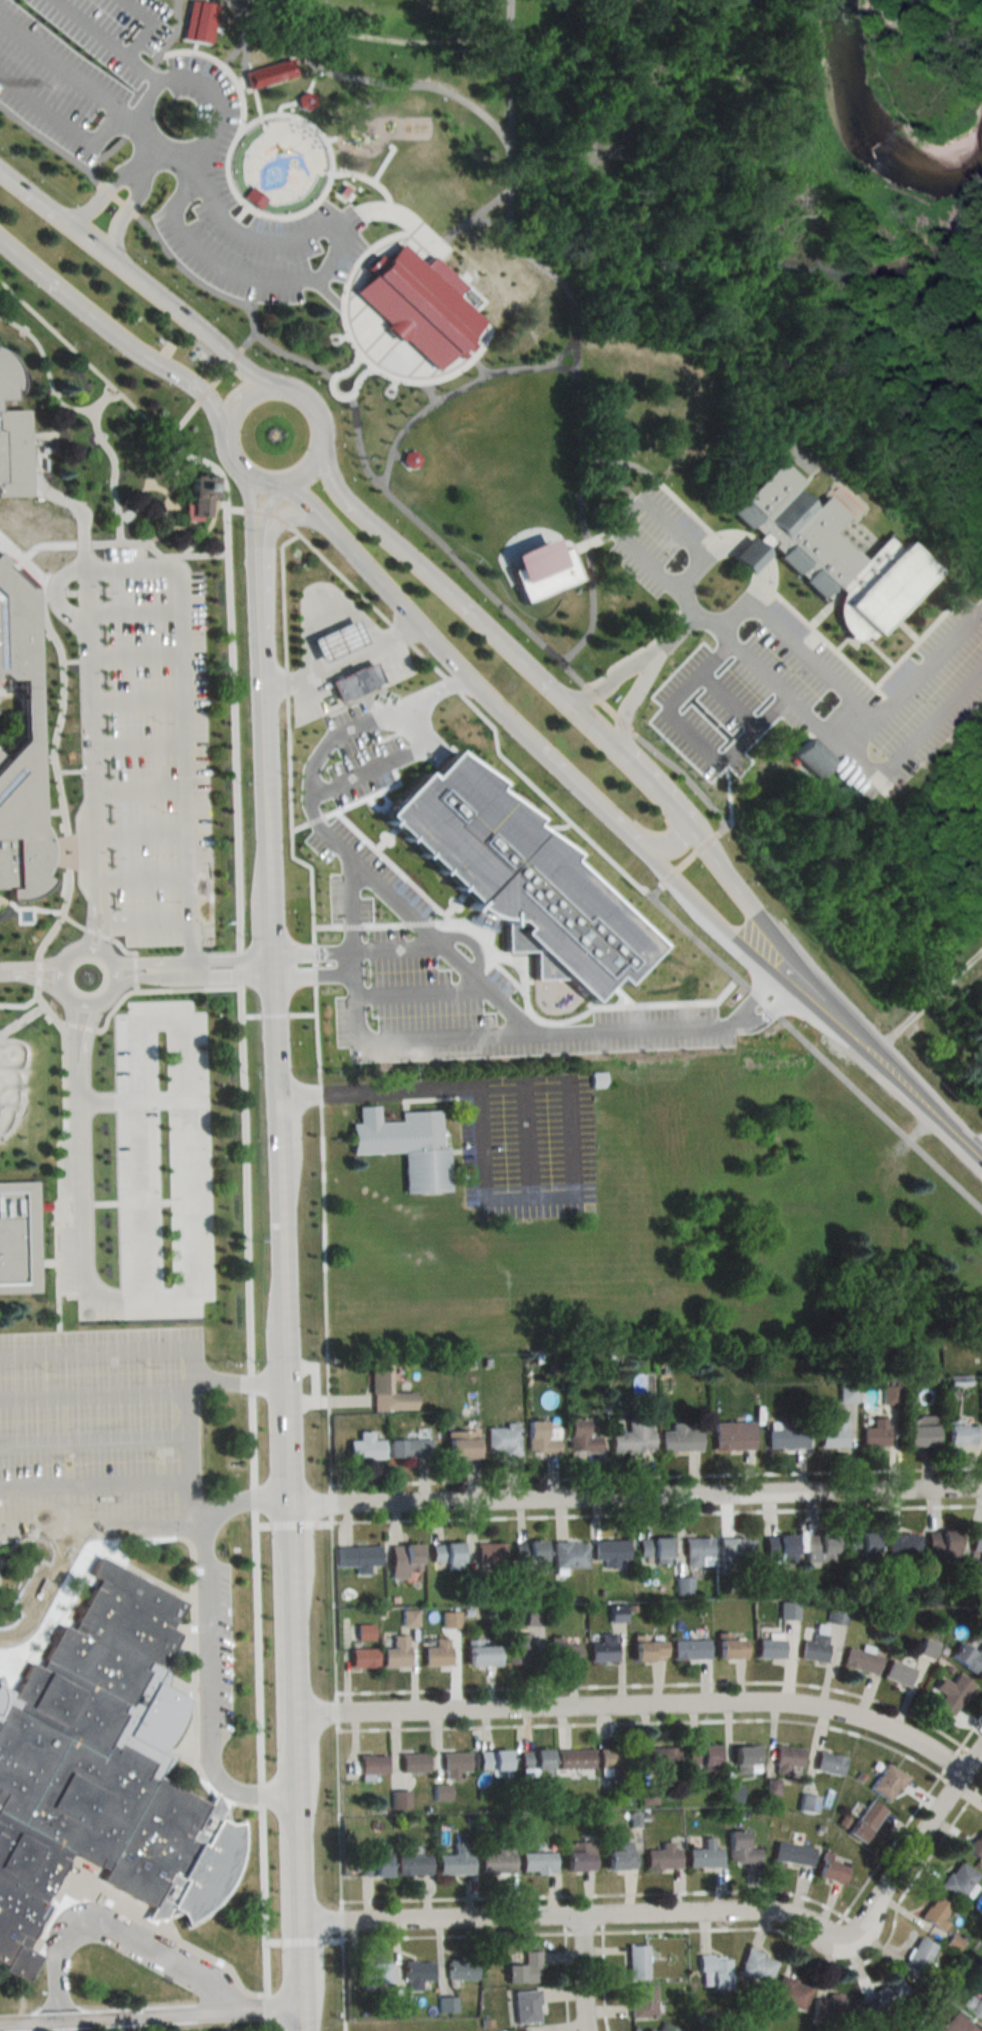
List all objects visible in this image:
building: (197, 23)
road: (925, 32)
road: (512, 35)
road: (235, 41)
road: (420, 42)
building: (129, 52)
road: (121, 53)
road: (221, 66)
road: (143, 68)
road: (222, 70)
building: (267, 72)
road: (362, 81)
road: (309, 82)
road: (241, 85)
road: (135, 90)
building: (303, 102)
road: (253, 104)
road: (282, 108)
road: (117, 114)
road: (131, 117)
park: (900, 126)
road: (43, 140)
parking lot: (162, 140)
road: (330, 143)
road: (161, 148)
road: (152, 151)
road: (382, 164)
road: (364, 184)
building: (340, 192)
road: (105, 193)
building: (253, 199)
road: (315, 199)
road: (127, 209)
road: (238, 220)
road: (434, 248)
river: (790, 251)
road: (329, 260)
road: (541, 262)
road: (136, 285)
road: (207, 289)
building: (422, 304)
road: (113, 339)
road: (355, 351)
road: (85, 358)
road: (475, 368)
road: (344, 372)
road: (55, 379)
road: (356, 383)
road: (212, 384)
park: (556, 387)
road: (428, 392)
road: (453, 392)
building: (13, 434)
road: (323, 446)
building: (410, 460)
road: (211, 463)
road: (119, 494)
building: (427, 495)
building: (199, 497)
road: (250, 497)
road: (308, 507)
road: (636, 507)
road: (582, 508)
road: (268, 509)
road: (265, 512)
road: (289, 520)
road: (84, 521)
road: (427, 532)
road: (596, 541)
road: (258, 542)
building: (828, 552)
road: (751, 555)
road: (172, 556)
road: (176, 567)
building: (543, 570)
road: (685, 624)
road: (404, 635)
road: (486, 635)
building: (336, 640)
road: (650, 654)
road: (342, 662)
road: (451, 664)
road: (574, 671)
building: (354, 680)
road: (855, 699)
road: (610, 705)
road: (362, 715)
road: (847, 721)
road: (62, 734)
road: (231, 735)
building: (385, 742)
building: (20, 747)
parking lot: (154, 751)
road: (854, 755)
building: (813, 757)
road: (680, 774)
building: (347, 824)
road: (636, 841)
road: (687, 859)
road: (682, 885)
road: (736, 897)
road: (311, 906)
road: (93, 919)
road: (105, 920)
road: (447, 951)
road: (314, 956)
road: (30, 962)
road: (142, 962)
road: (484, 964)
road: (39, 971)
road: (222, 972)
road: (144, 973)
road: (240, 974)
road: (29, 978)
road: (56, 981)
road: (315, 981)
road: (926, 1000)
road: (773, 1013)
road: (360, 1035)
road: (70, 1036)
road: (84, 1038)
road: (817, 1052)
road: (885, 1067)
building: (597, 1079)
road: (432, 1088)
road: (319, 1092)
road: (526, 1127)
road: (277, 1132)
building: (405, 1146)
road: (61, 1159)
road: (529, 1169)
road: (245, 1178)
building: (17, 1236)
road: (179, 1293)
road: (325, 1296)
road: (93, 1349)
building: (598, 1364)
road: (235, 1379)
road: (251, 1381)
building: (387, 1390)
building: (845, 1392)
building: (887, 1394)
parking lot: (91, 1422)
building: (919, 1430)
building: (874, 1433)
building: (785, 1434)
building: (833, 1434)
building: (960, 1434)
road: (188, 1435)
building: (635, 1435)
building: (732, 1435)
road: (252, 1438)
building: (542, 1438)
building: (582, 1438)
building: (680, 1438)
building: (501, 1440)
building: (461, 1444)
building: (365, 1447)
building: (409, 1447)
road: (656, 1475)
road: (253, 1496)
road: (634, 1498)
road: (331, 1502)
road: (656, 1514)
road: (292, 1523)
road: (106, 1524)
building: (861, 1543)
building: (976, 1543)
building: (941, 1545)
building: (819, 1547)
building: (902, 1547)
building: (779, 1548)
building: (611, 1549)
building: (654, 1549)
building: (736, 1550)
building: (529, 1551)
building: (698, 1551)
building: (492, 1553)
building: (446, 1554)
building: (570, 1554)
building: (358, 1557)
building: (403, 1559)
road: (193, 1570)
road: (46, 1589)
road: (333, 1606)
building: (788, 1610)
building: (618, 1613)
building: (837, 1615)
building: (451, 1619)
road: (208, 1633)
road: (257, 1644)
building: (604, 1647)
building: (814, 1647)
building: (690, 1648)
building: (731, 1648)
building: (769, 1648)
building: (928, 1648)
building: (520, 1649)
building: (648, 1649)
building: (396, 1652)
building: (437, 1652)
building: (564, 1652)
building: (481, 1655)
building: (968, 1657)
building: (362, 1658)
building: (861, 1660)
building: (898, 1672)
road: (657, 1685)
building: (952, 1692)
road: (635, 1707)
road: (337, 1710)
road: (646, 1722)
road: (973, 1732)
building: (701, 1755)
building: (747, 1755)
building: (91, 1757)
road: (294, 1757)
building: (662, 1757)
building: (619, 1758)
building: (576, 1759)
building: (787, 1759)
building: (494, 1761)
road: (952, 1761)
building: (414, 1762)
building: (535, 1763)
building: (829, 1763)
building: (372, 1764)
building: (455, 1764)
building: (888, 1782)
road: (261, 1793)
road: (276, 1798)
building: (808, 1803)
road: (339, 1814)
building: (867, 1821)
road: (916, 1844)
building: (977, 1845)
building: (741, 1849)
building: (793, 1853)
building: (705, 1855)
building: (620, 1856)
building: (663, 1857)
building: (581, 1858)
building: (456, 1859)
road: (297, 1861)
building: (497, 1861)
building: (537, 1862)
building: (413, 1864)
building: (373, 1866)
building: (832, 1871)
building: (959, 1880)
road: (681, 1892)
road: (264, 1899)
building: (937, 1912)
road: (573, 1917)
road: (342, 1919)
road: (145, 1921)
road: (605, 1924)
road: (567, 1926)
road: (586, 1932)
road: (119, 1936)
road: (455, 1936)
road: (303, 1939)
building: (954, 1943)
building: (918, 1957)
building: (637, 1962)
building: (757, 1966)
road: (837, 1966)
building: (526, 1969)
building: (462, 1970)
building: (714, 1971)
building: (376, 1973)
building: (416, 1974)
road: (581, 1974)
road: (300, 1977)
road: (343, 1980)
road: (607, 1981)
road: (569, 1982)
building: (791, 1992)
building: (885, 1997)
building: (642, 2001)
building: (977, 2003)
building: (447, 2004)
road: (266, 2006)
building: (403, 2006)
building: (526, 2007)
building: (836, 2008)
road: (150, 2014)
building: (964, 2024)
road: (267, 2025)
building: (526, 2030)

